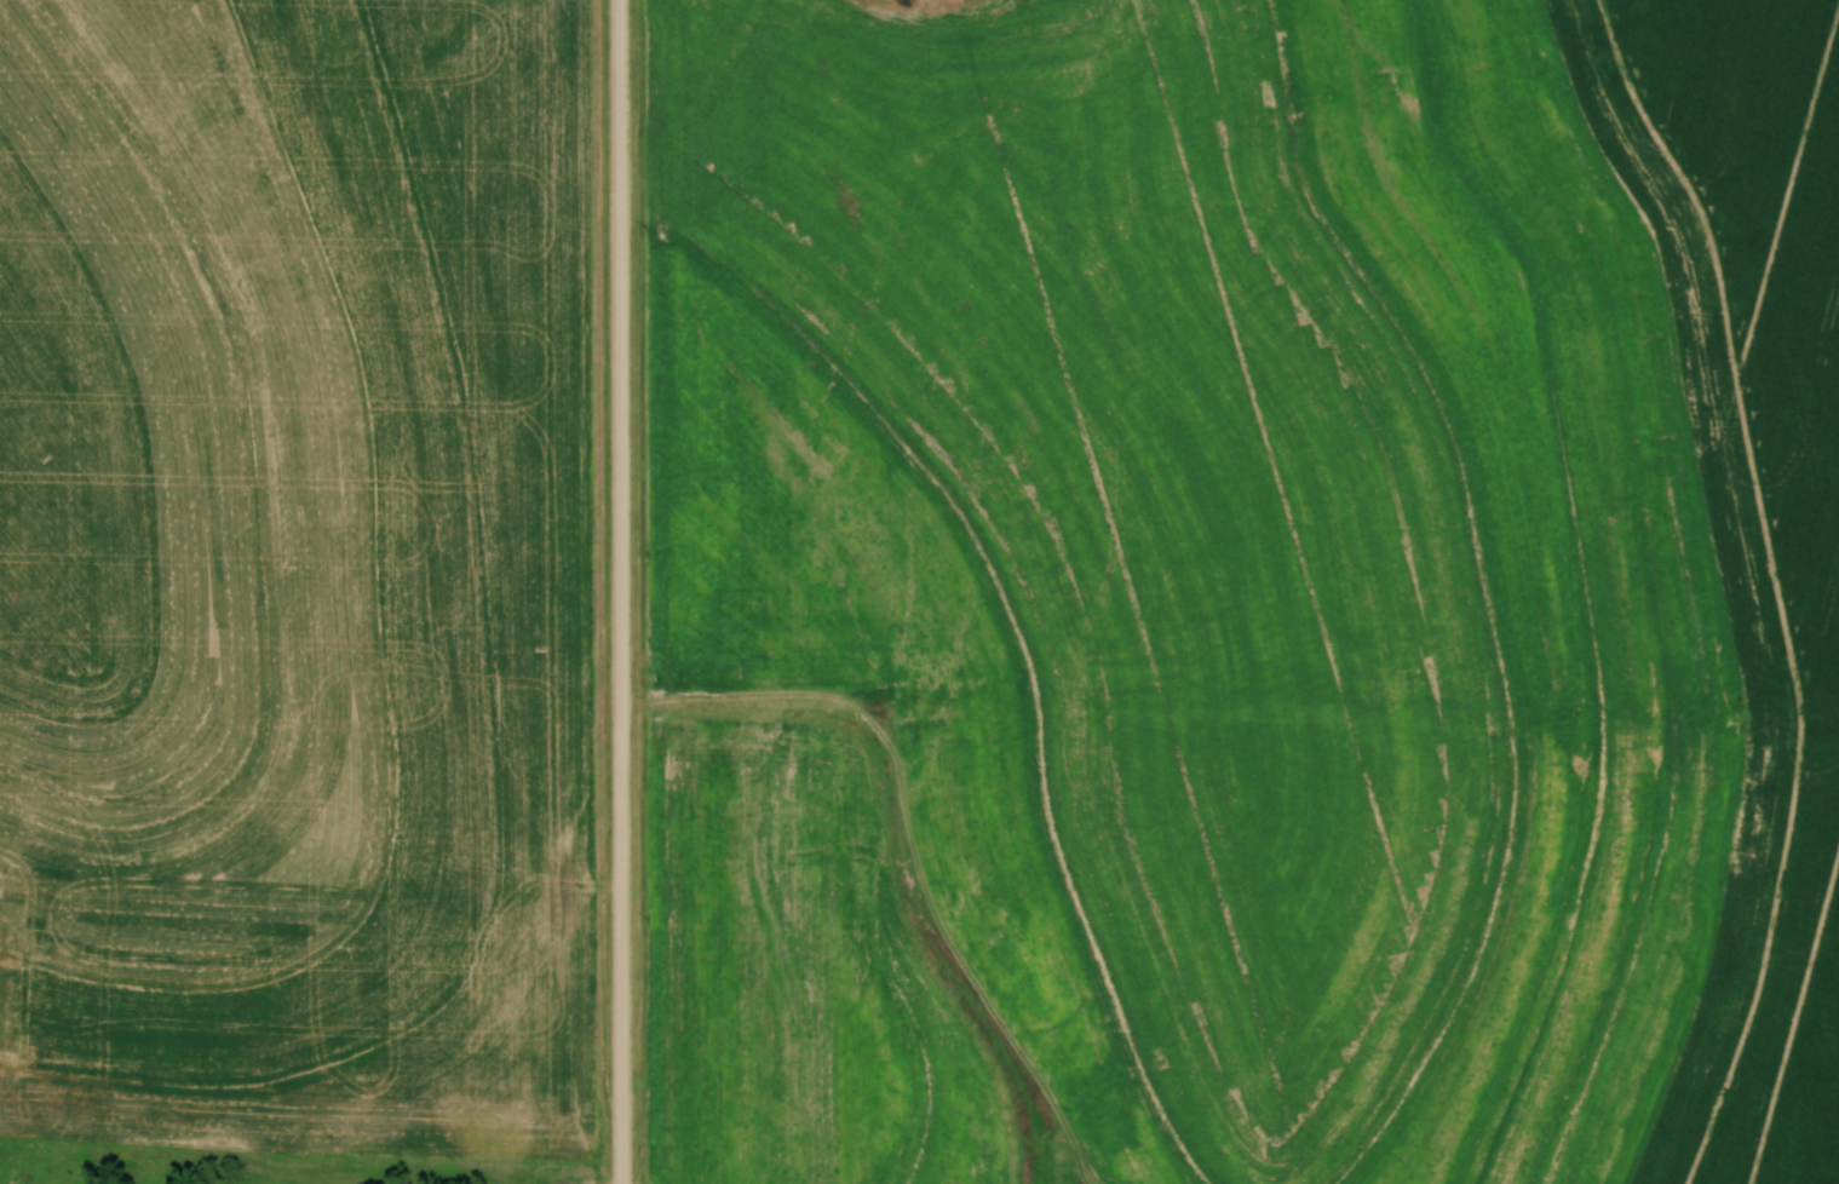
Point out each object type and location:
road: (616, 592)

